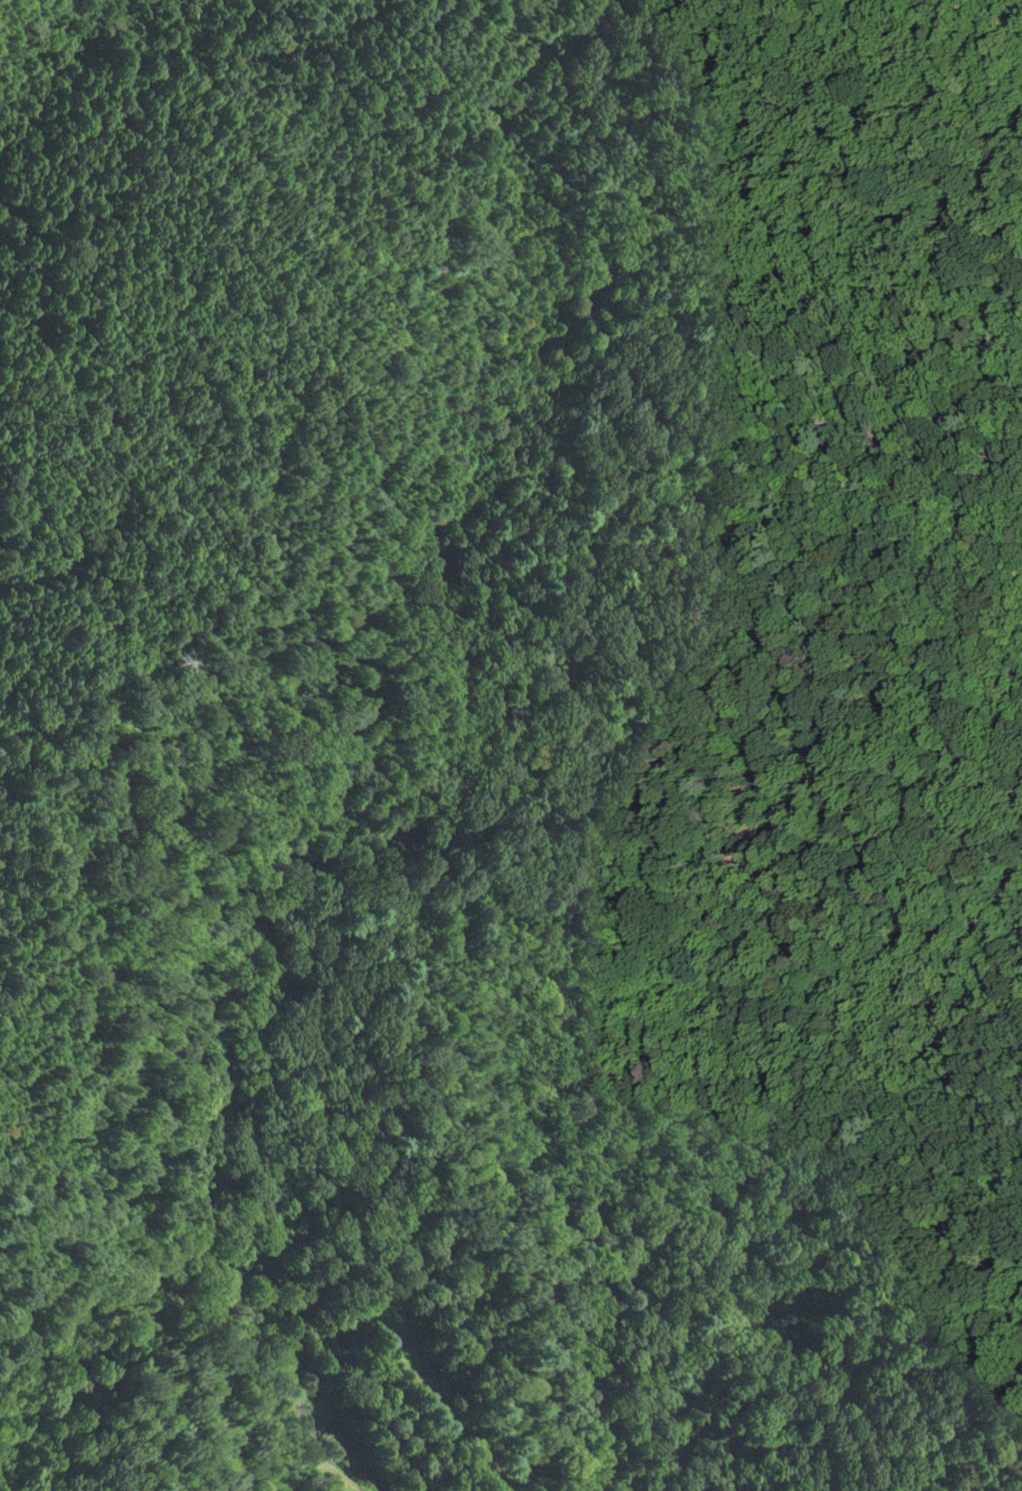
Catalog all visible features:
building: (291, 1463)
building: (335, 1489)

